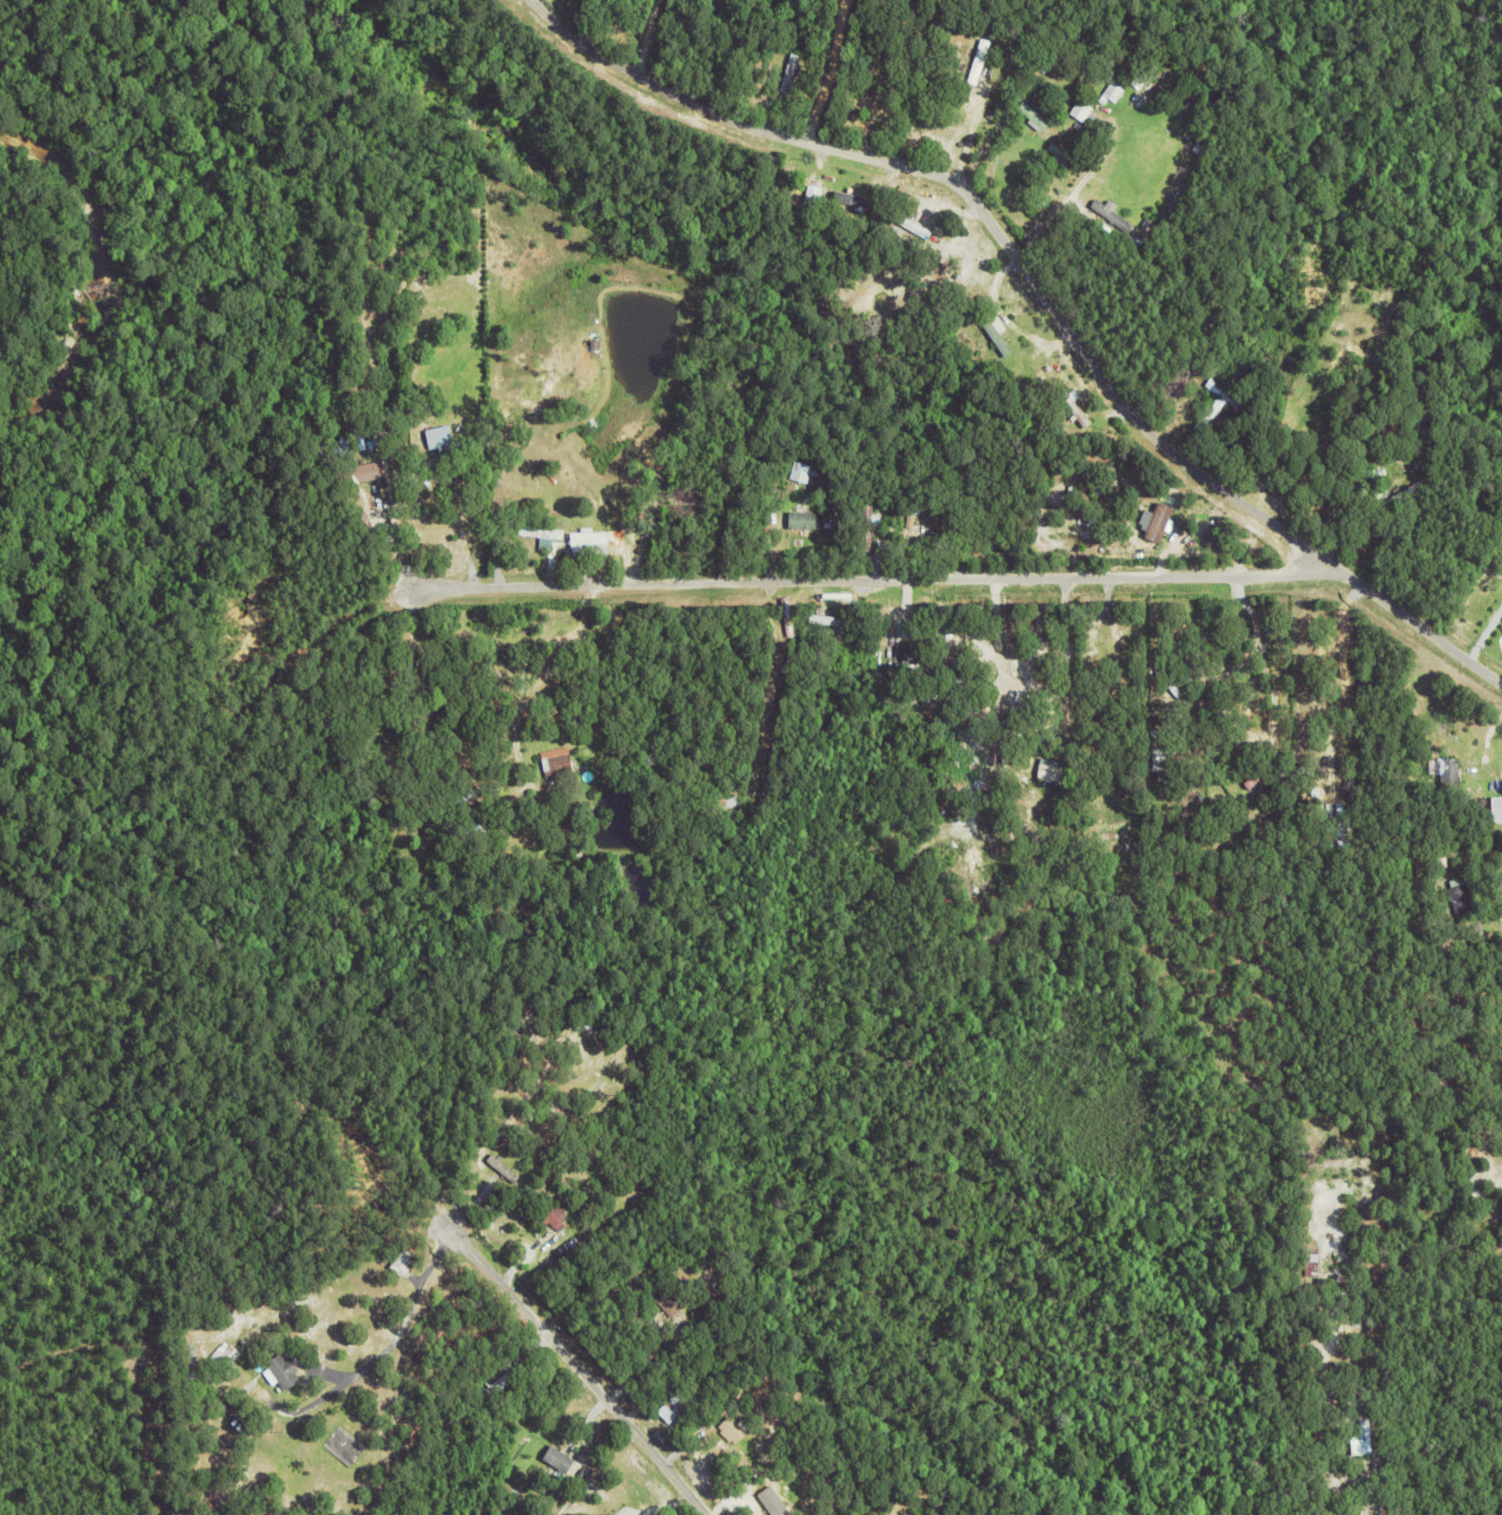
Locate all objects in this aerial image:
building: (908, 8)
building: (1092, 55)
building: (981, 62)
road: (825, 70)
building: (1007, 70)
building: (1154, 72)
building: (791, 74)
building: (1030, 85)
building: (1116, 89)
building: (753, 97)
building: (774, 99)
building: (866, 105)
building: (995, 113)
building: (1037, 114)
building: (946, 120)
building: (923, 132)
building: (1095, 133)
building: (1201, 148)
building: (1068, 158)
building: (837, 185)
building: (821, 194)
building: (858, 202)
building: (882, 209)
building: (1110, 211)
building: (916, 224)
building: (949, 240)
river: (94, 275)
road: (1044, 292)
building: (1006, 320)
building: (992, 347)
building: (1024, 388)
building: (353, 395)
building: (1228, 399)
building: (1075, 407)
building: (1211, 416)
building: (441, 440)
building: (346, 447)
building: (539, 453)
building: (1289, 453)
building: (1381, 463)
building: (801, 473)
building: (359, 474)
building: (395, 480)
building: (1382, 494)
building: (655, 496)
building: (1402, 497)
building: (687, 502)
building: (917, 521)
building: (1158, 521)
building: (808, 522)
building: (942, 525)
building: (869, 529)
building: (541, 534)
building: (880, 545)
building: (582, 553)
building: (906, 554)
building: (920, 554)
road: (868, 578)
building: (828, 622)
building: (930, 634)
building: (925, 645)
building: (1096, 647)
building: (916, 658)
building: (1177, 677)
building: (904, 680)
building: (880, 682)
building: (963, 682)
building: (1170, 684)
building: (968, 698)
building: (1032, 700)
building: (967, 706)
building: (1155, 731)
building: (424, 733)
building: (953, 741)
building: (1042, 744)
building: (406, 753)
building: (1162, 753)
building: (558, 763)
building: (1054, 773)
building: (1262, 774)
building: (1451, 775)
building: (1023, 783)
building: (769, 793)
building: (725, 807)
building: (1497, 808)
building: (989, 809)
building: (1113, 827)
building: (473, 828)
building: (942, 837)
building: (990, 840)
building: (1141, 840)
building: (978, 876)
building: (392, 878)
building: (1461, 898)
building: (1478, 939)
building: (555, 1113)
building: (507, 1169)
building: (1475, 1194)
building: (555, 1217)
building: (558, 1252)
building: (1313, 1263)
building: (404, 1265)
building: (670, 1303)
building: (1312, 1321)
building: (230, 1357)
road: (577, 1364)
building: (285, 1374)
building: (488, 1383)
building: (240, 1406)
building: (676, 1409)
building: (733, 1431)
building: (1363, 1442)
building: (437, 1454)
building: (559, 1463)
building: (450, 1464)
building: (781, 1500)
building: (610, 1514)

